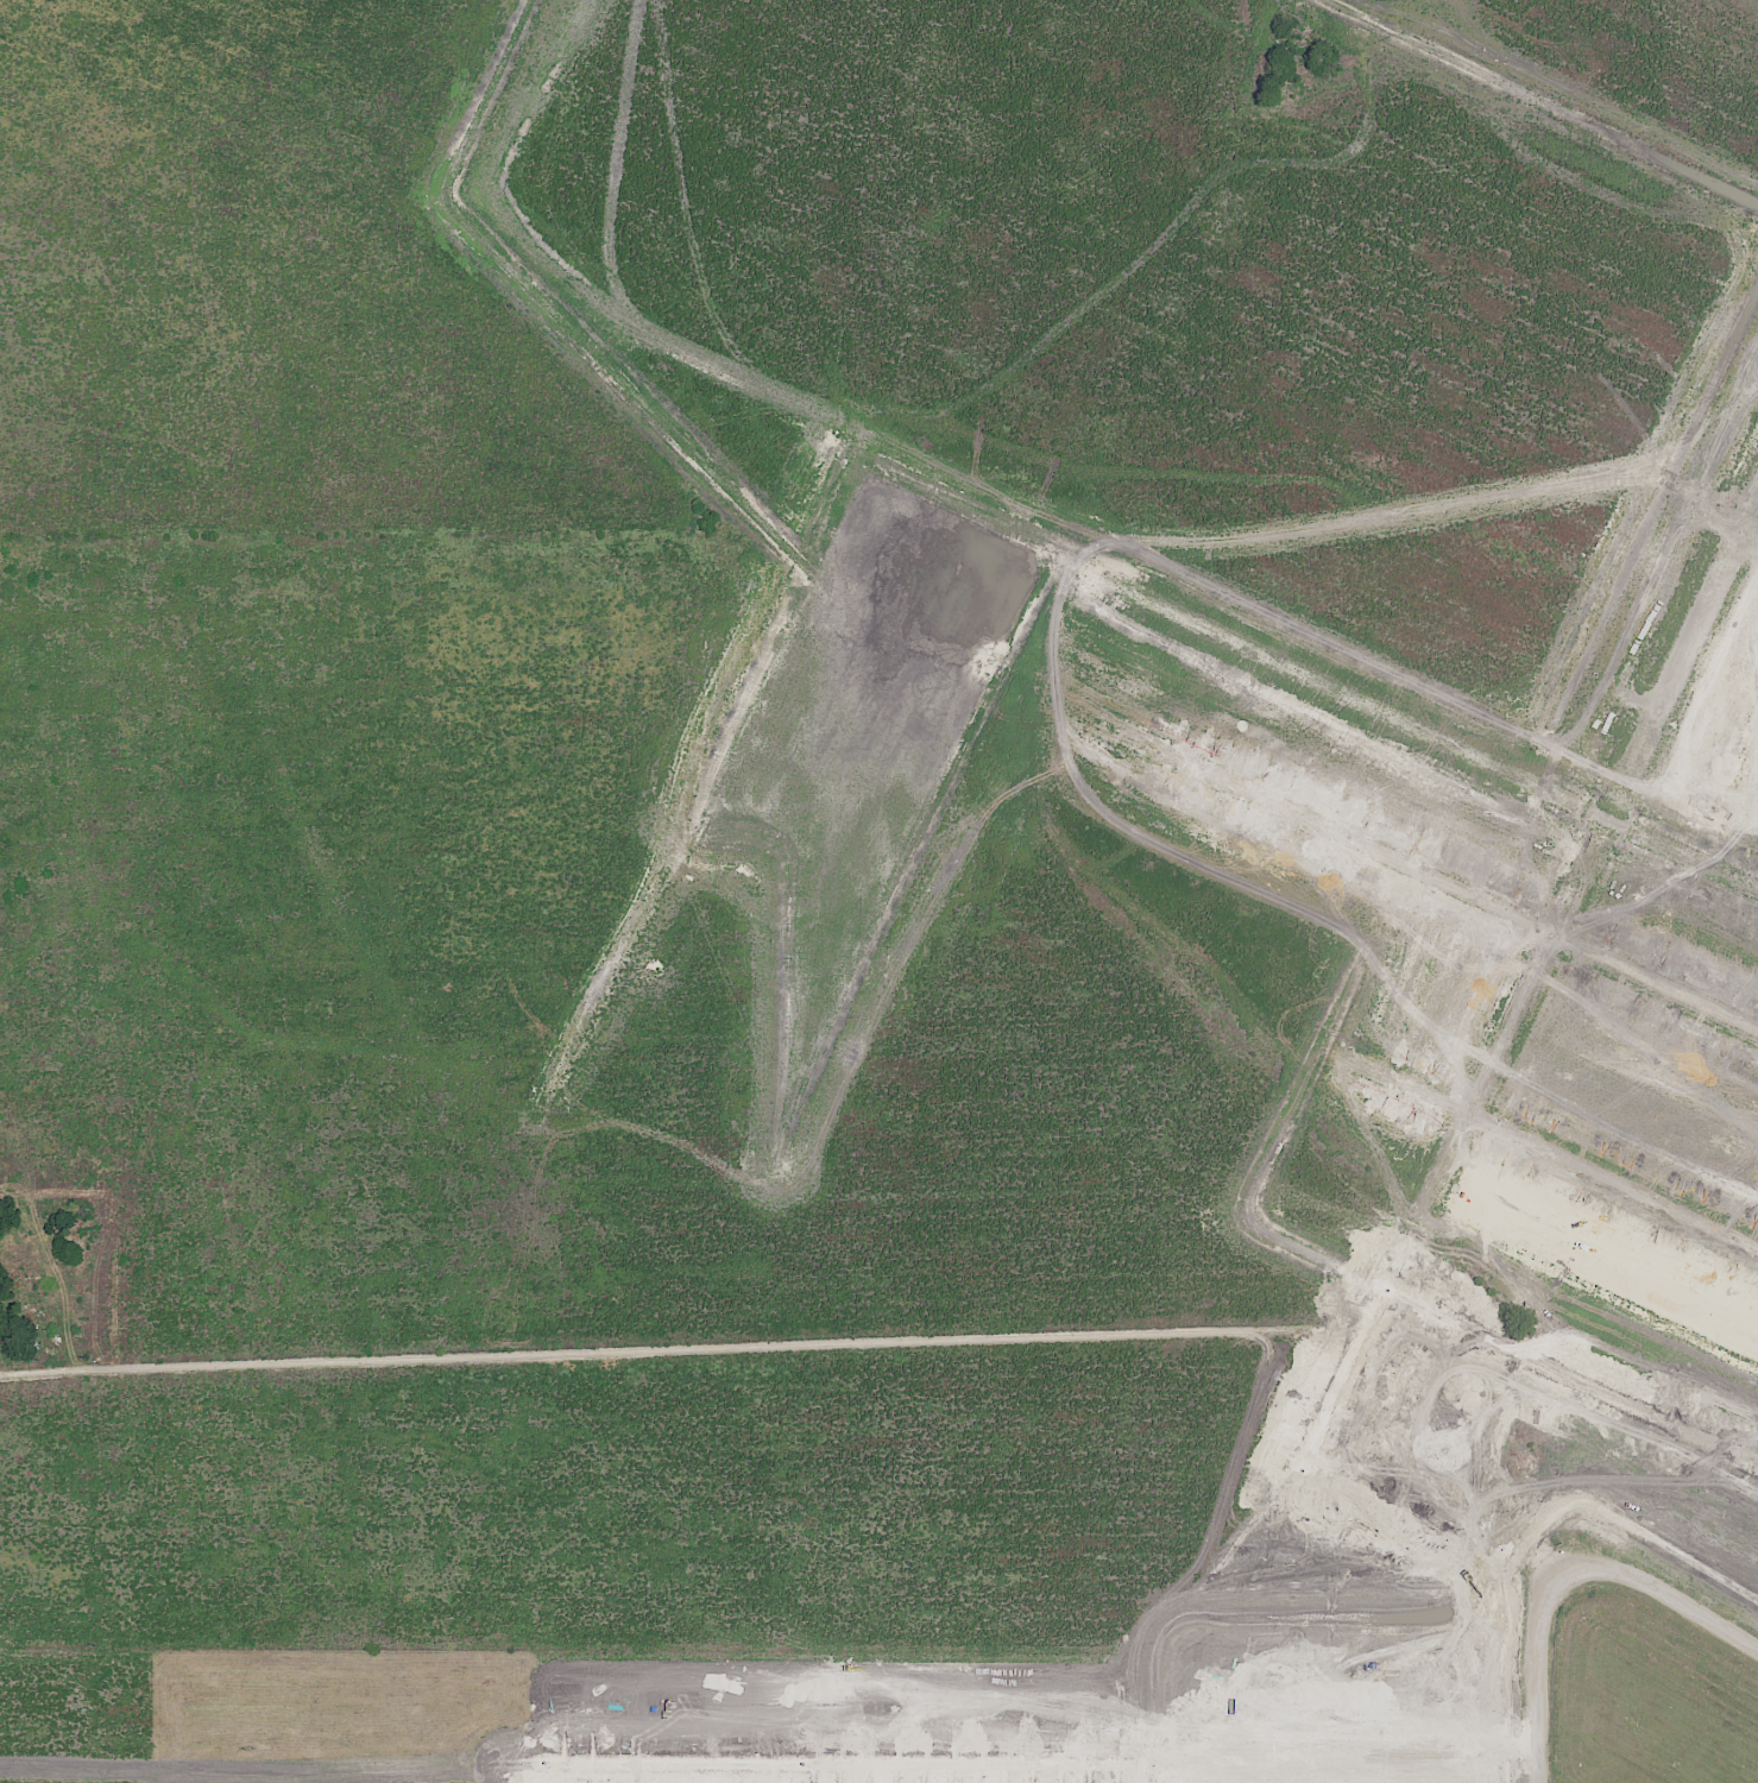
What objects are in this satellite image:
road: (296, 18)
road: (320, 63)
road: (983, 108)
road: (1419, 163)
road: (1293, 321)
road: (1613, 509)
road: (1750, 536)
road: (1600, 827)
road: (1436, 880)
road: (1428, 1097)
road: (1611, 1180)
road: (864, 1229)
road: (461, 1262)
road: (1368, 1313)
road: (1000, 1330)
road: (667, 1344)
road: (1569, 1379)
road: (433, 1508)
road: (566, 1513)
road: (1567, 1577)
road: (1021, 1765)
road: (711, 1773)
road: (1147, 1773)

